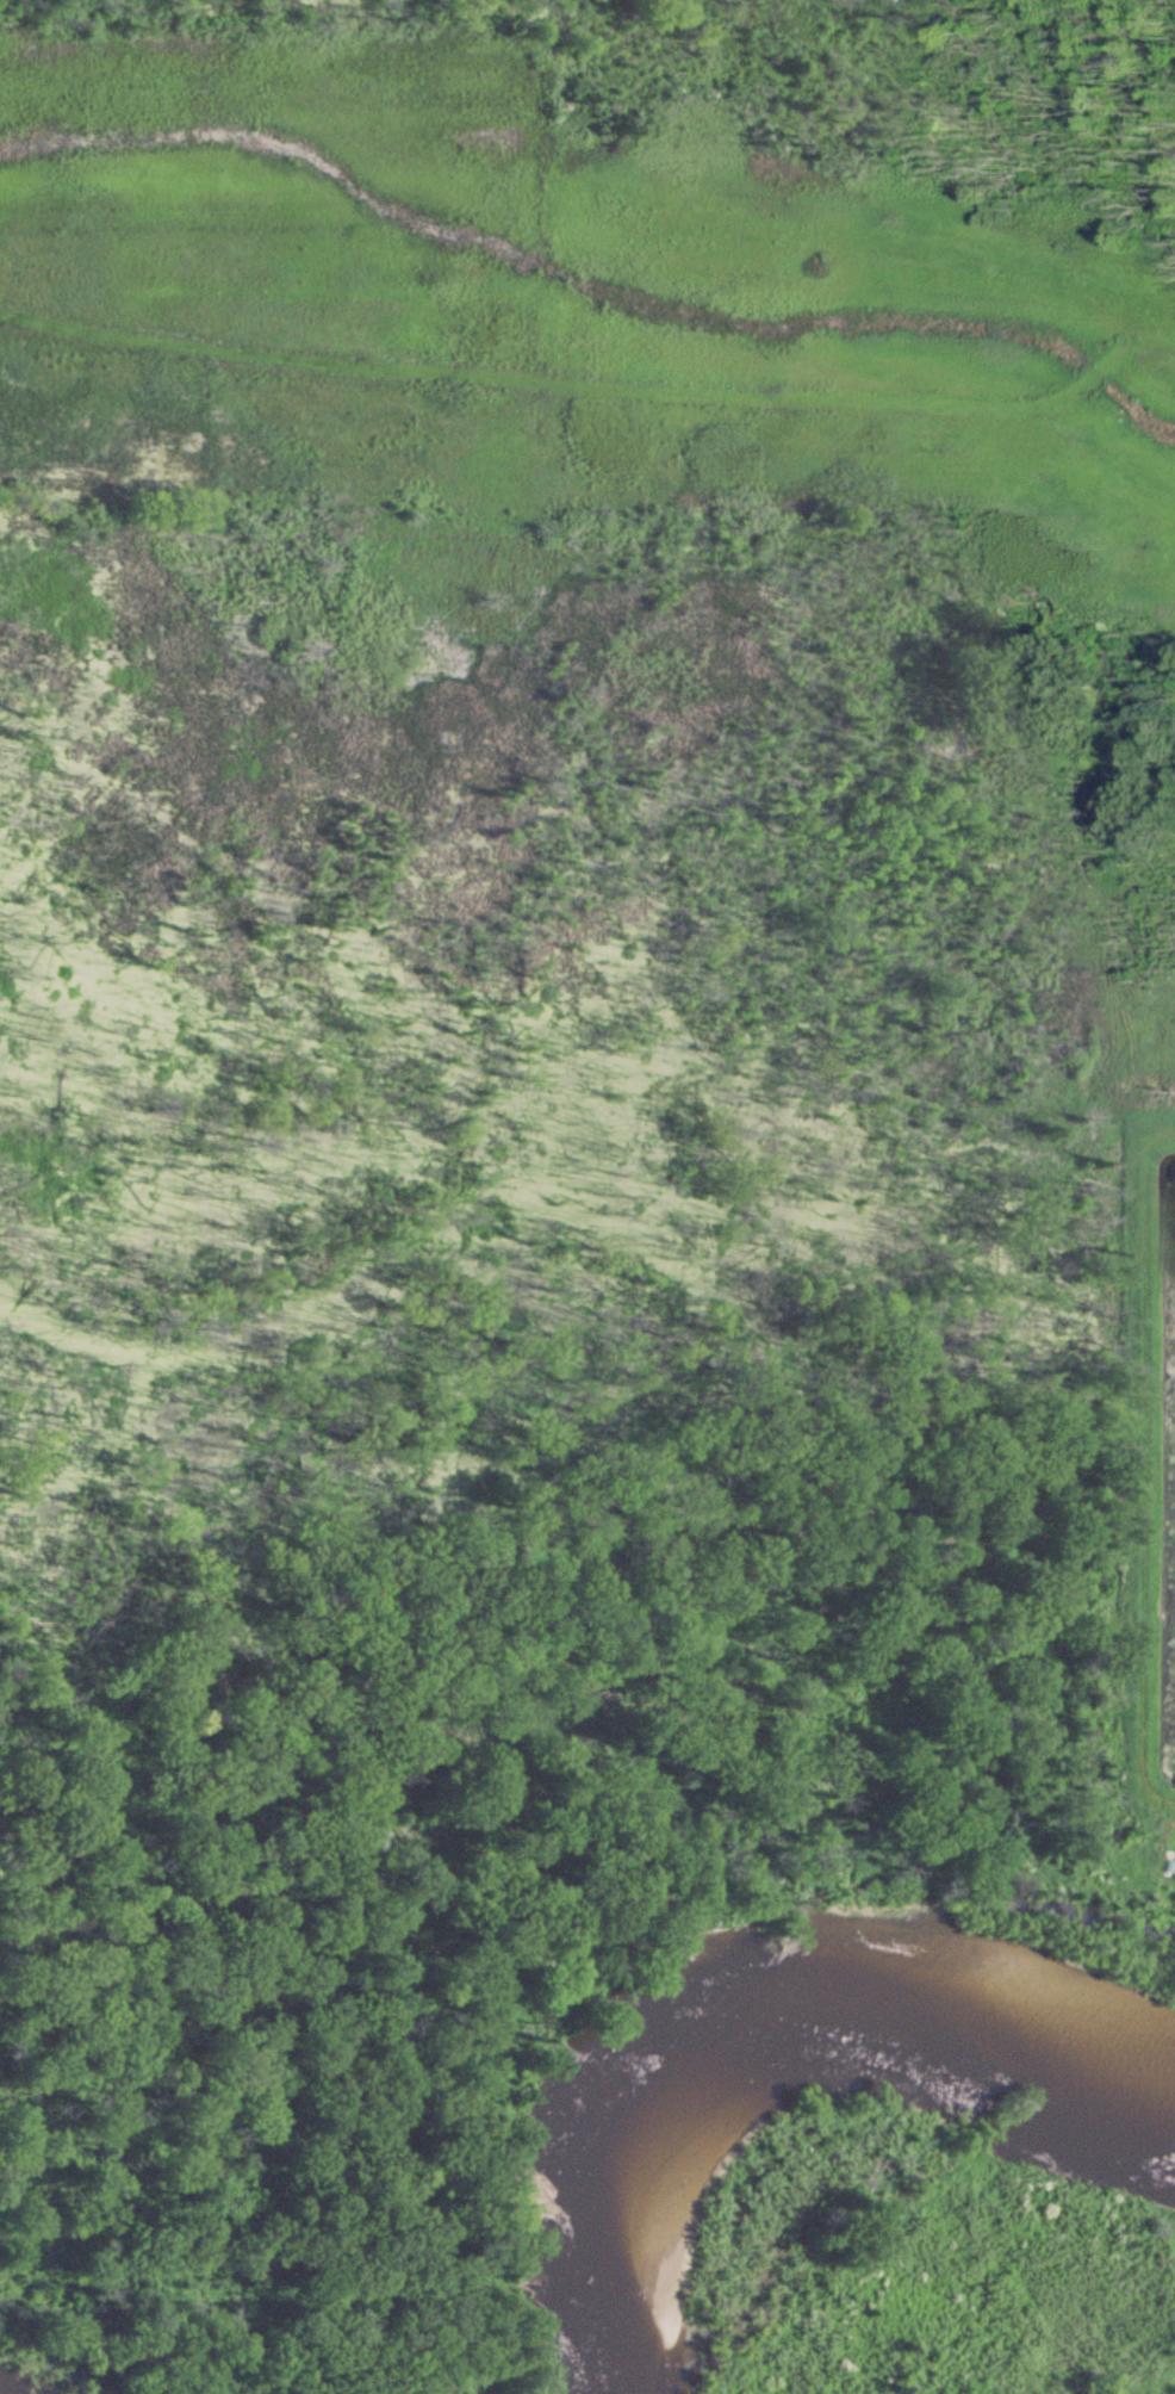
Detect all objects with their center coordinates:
river: (781, 2026)
road: (965, 2243)

